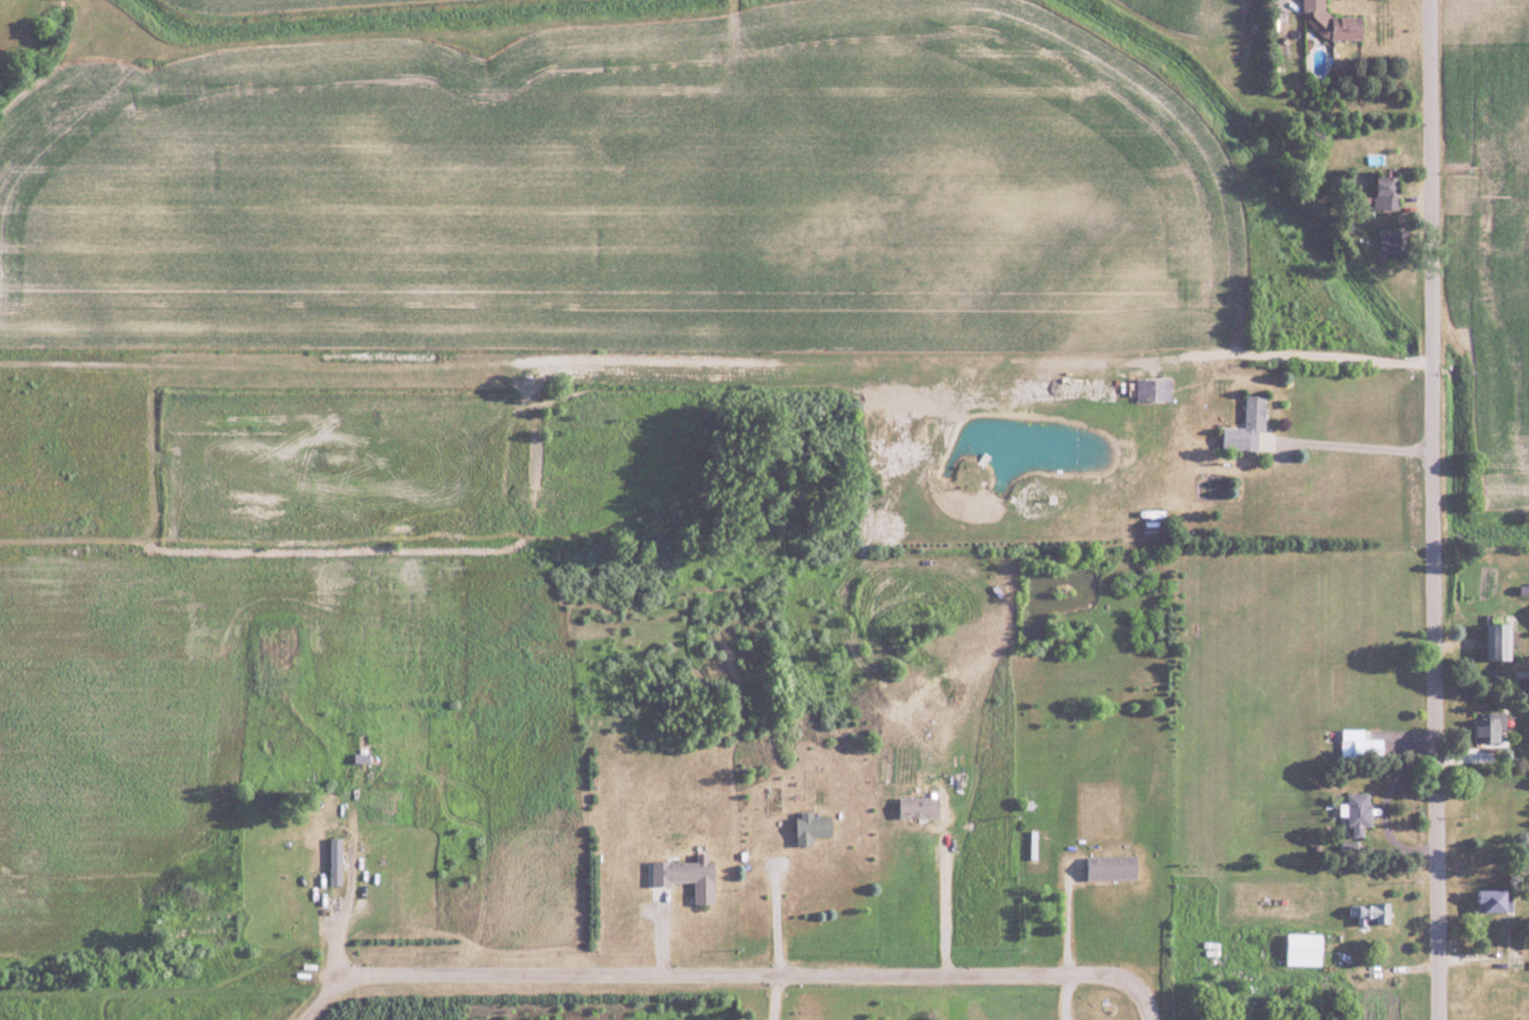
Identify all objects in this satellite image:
road: (1278, 2)
building: (1332, 21)
building: (1385, 192)
building: (1393, 240)
building: (1152, 388)
building: (1253, 420)
road: (1350, 435)
road: (1433, 510)
building: (1500, 641)
building: (1488, 727)
building: (1359, 743)
building: (362, 757)
building: (919, 806)
building: (1358, 812)
building: (812, 827)
building: (336, 859)
building: (1113, 866)
building: (689, 875)
road: (944, 898)
building: (1495, 899)
road: (1067, 908)
road: (775, 910)
building: (1370, 911)
building: (1304, 948)
road: (690, 969)
road: (1116, 975)

